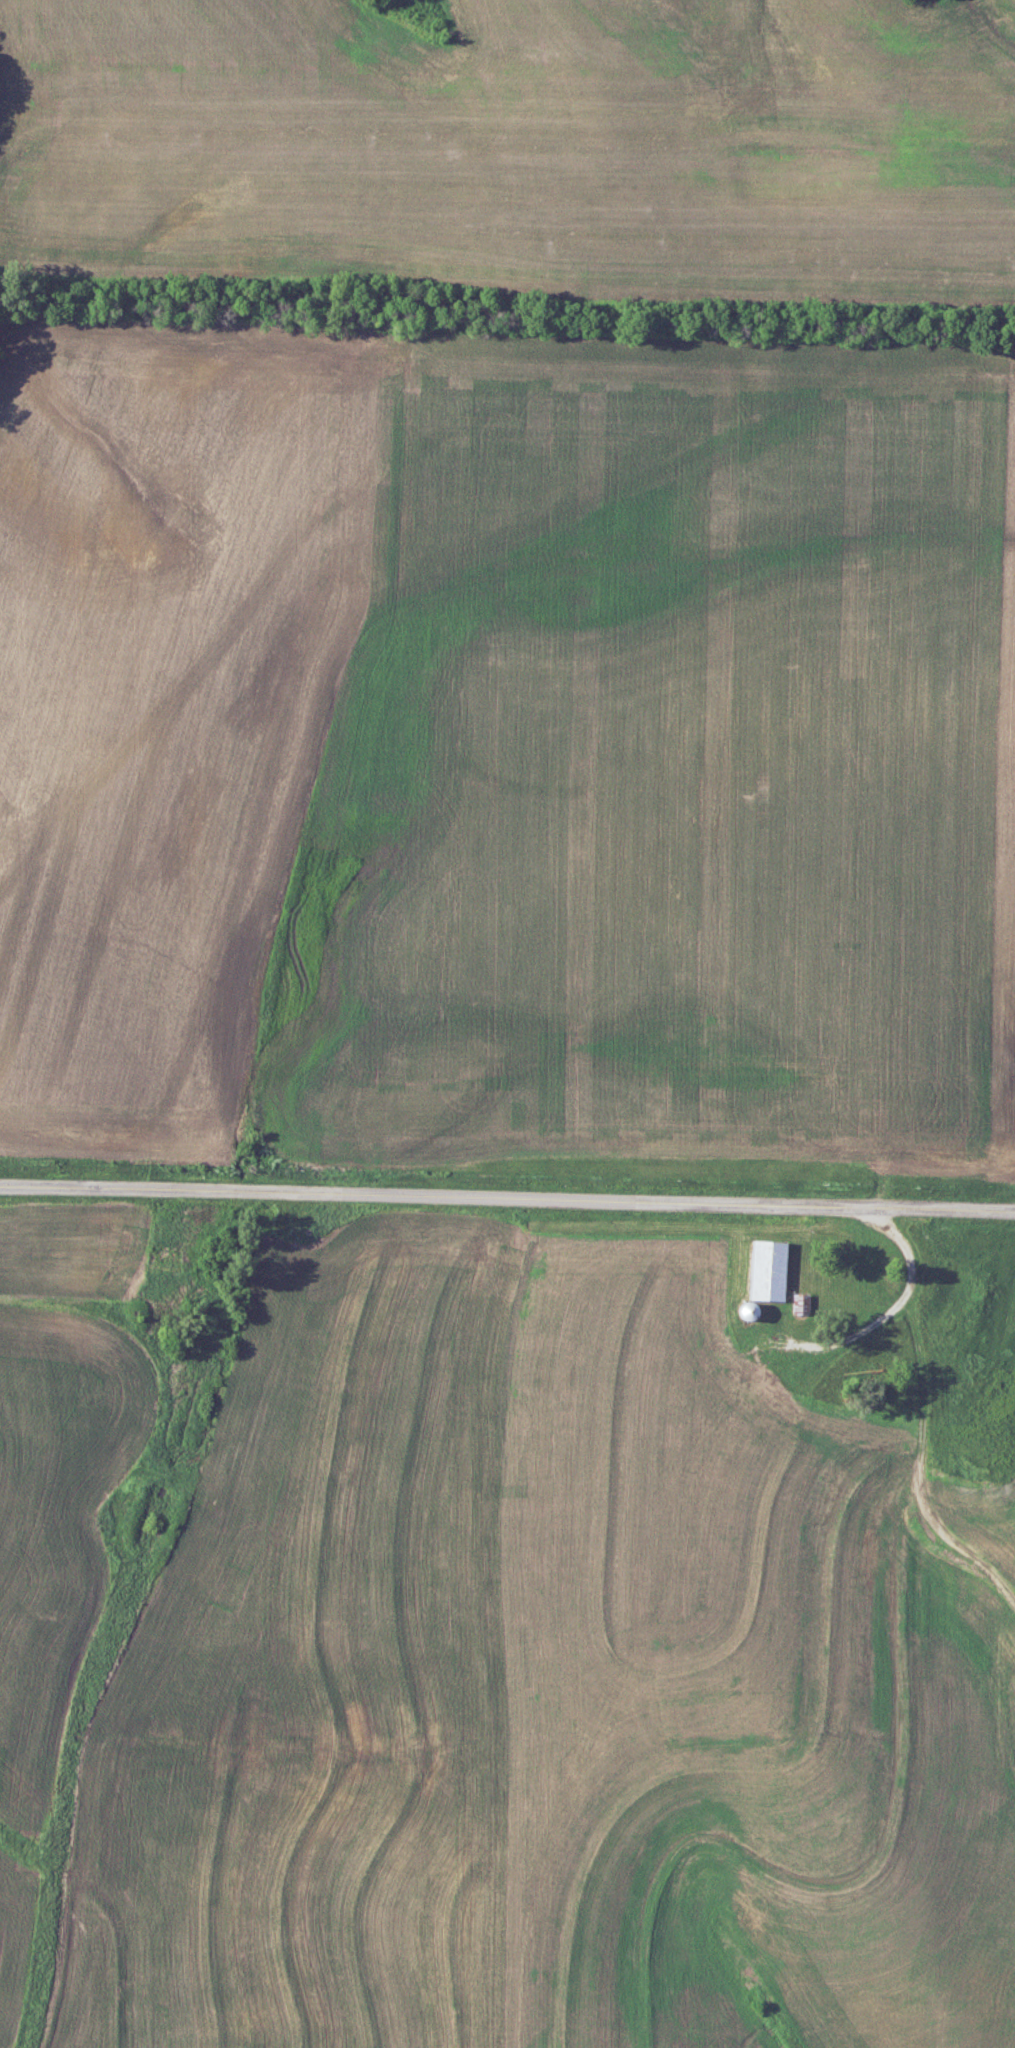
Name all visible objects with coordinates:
road: (507, 1201)
building: (765, 1268)

